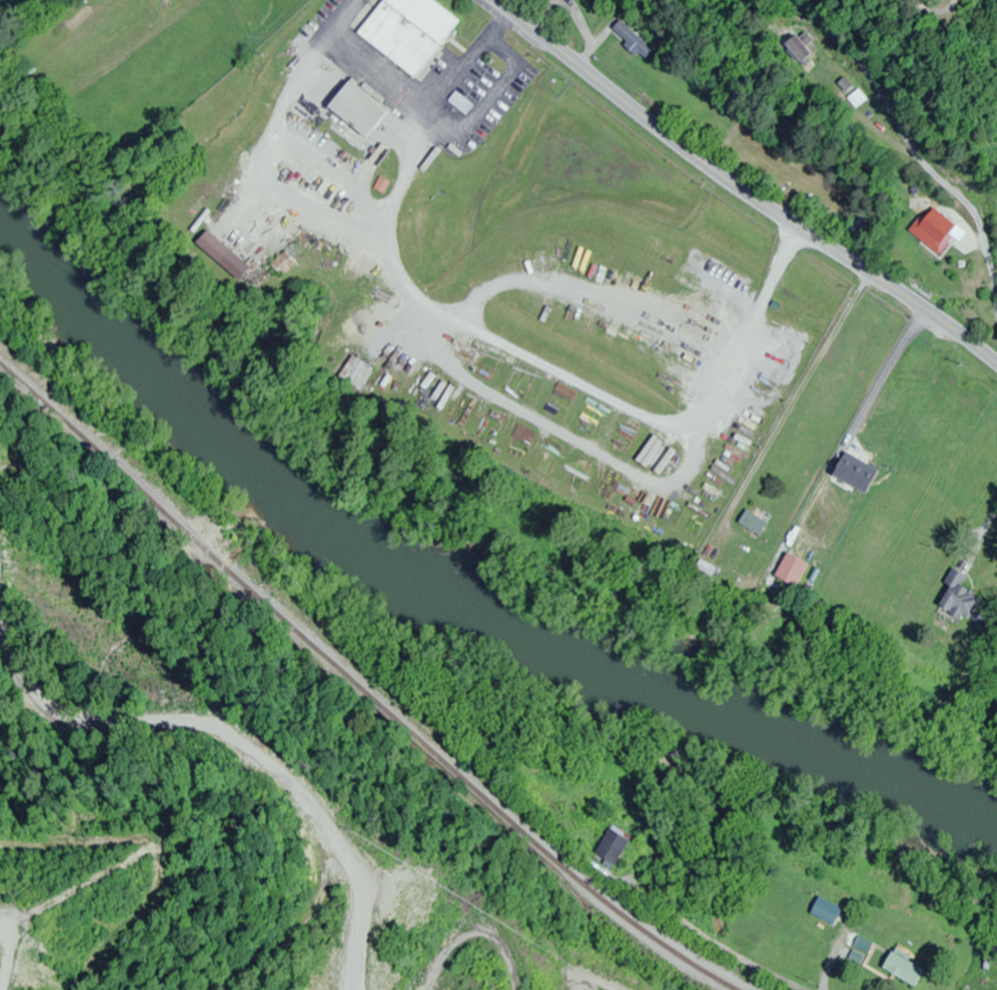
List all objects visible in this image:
building: (408, 31)
building: (631, 39)
building: (796, 45)
road: (461, 72)
building: (846, 84)
building: (858, 99)
building: (357, 110)
road: (928, 152)
road: (741, 189)
building: (934, 230)
building: (212, 246)
building: (283, 264)
road: (774, 277)
road: (528, 358)
building: (357, 374)
building: (856, 468)
building: (753, 523)
building: (791, 570)
river: (448, 591)
building: (959, 598)
railway: (358, 691)
building: (613, 847)
road: (724, 952)
building: (905, 969)

